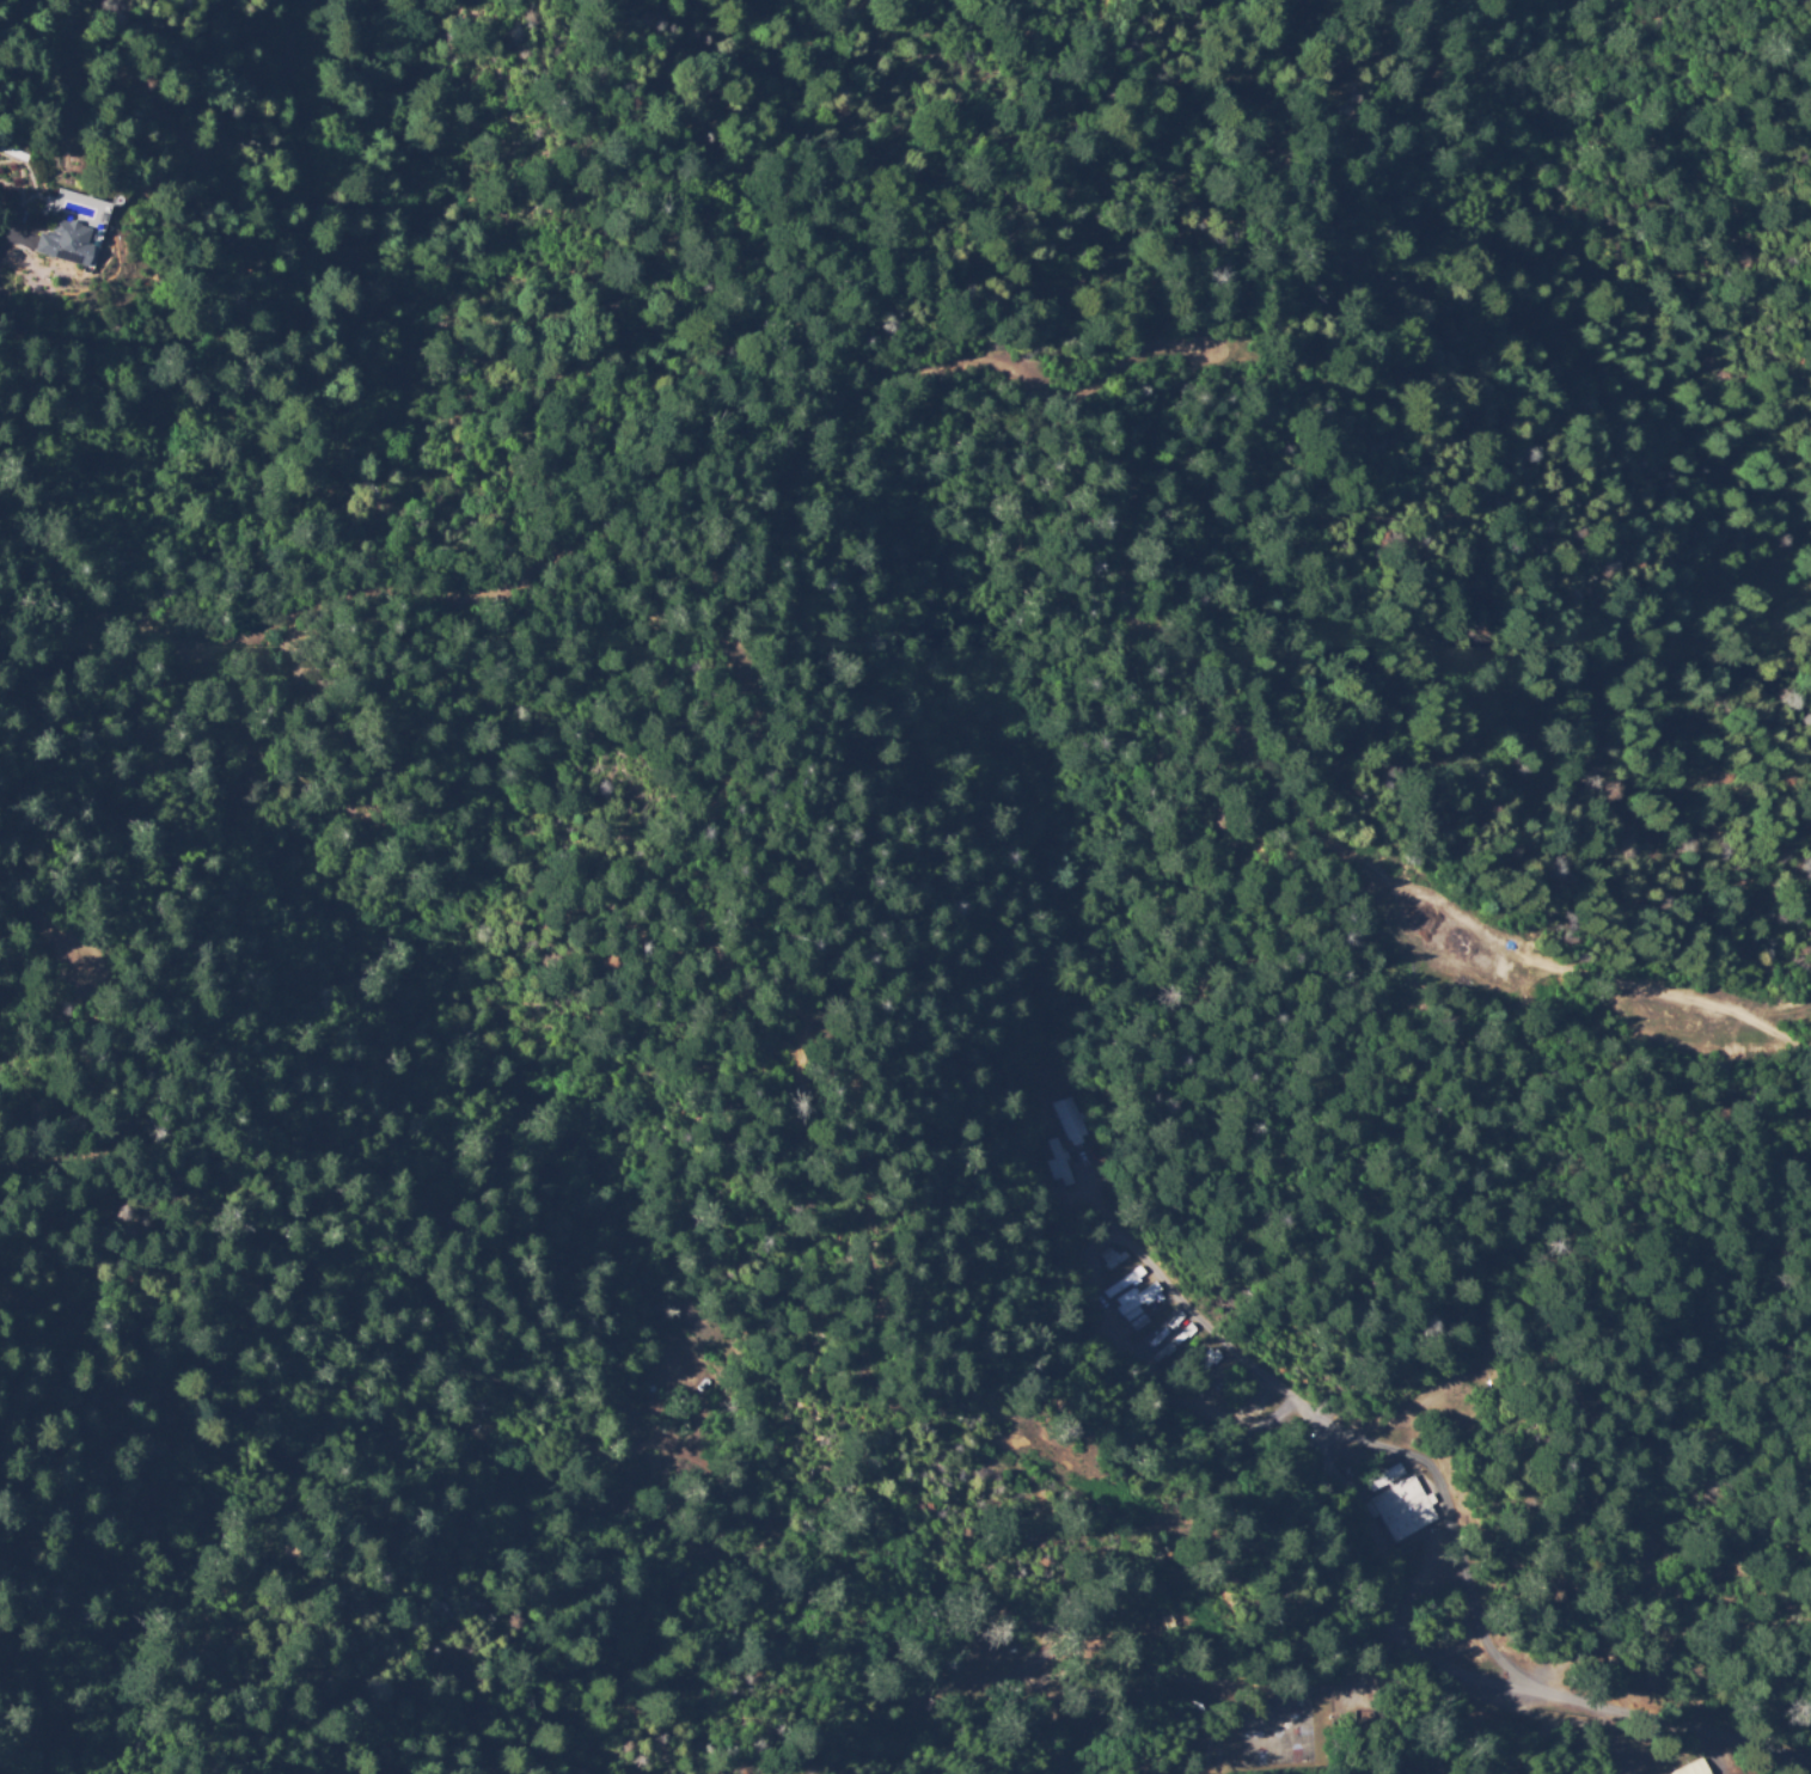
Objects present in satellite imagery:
building: (65, 243)
road: (1185, 669)
road: (862, 1077)
building: (1083, 1121)
building: (1136, 1301)
road: (1210, 1328)
building: (1200, 1366)
building: (1382, 1476)
building: (1405, 1506)
road: (1338, 1509)
road: (1537, 1530)
park: (1139, 1628)
building: (1616, 1638)
road: (1207, 1680)
building: (1340, 1718)
road: (1719, 1718)
park: (1277, 1733)
road: (1610, 1737)
building: (1683, 1768)

